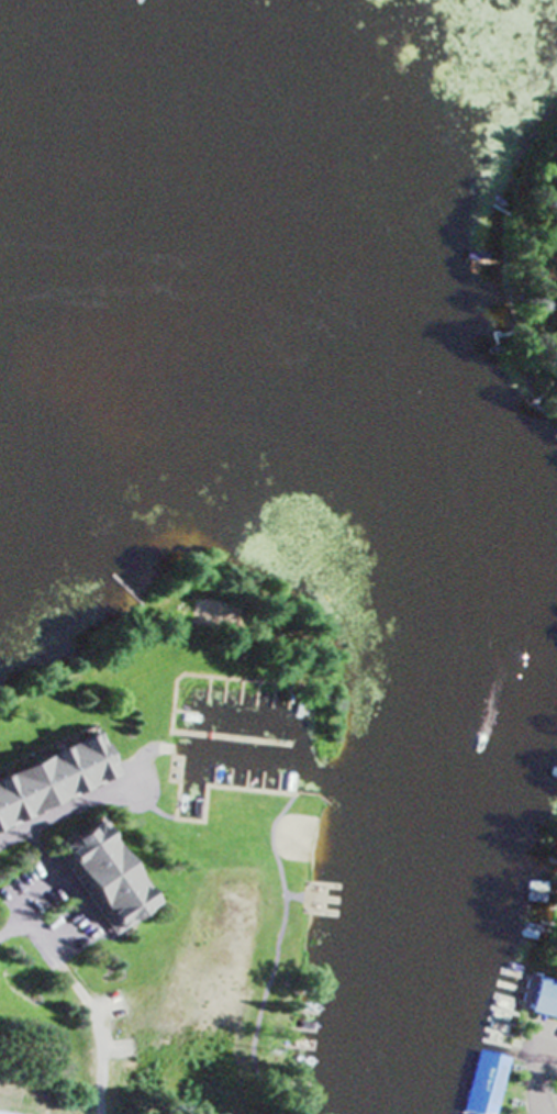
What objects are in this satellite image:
river: (47, 177)
river: (468, 557)
pier: (232, 738)
building: (52, 779)
road: (64, 806)
building: (100, 879)
building: (543, 1000)
building: (483, 1083)

